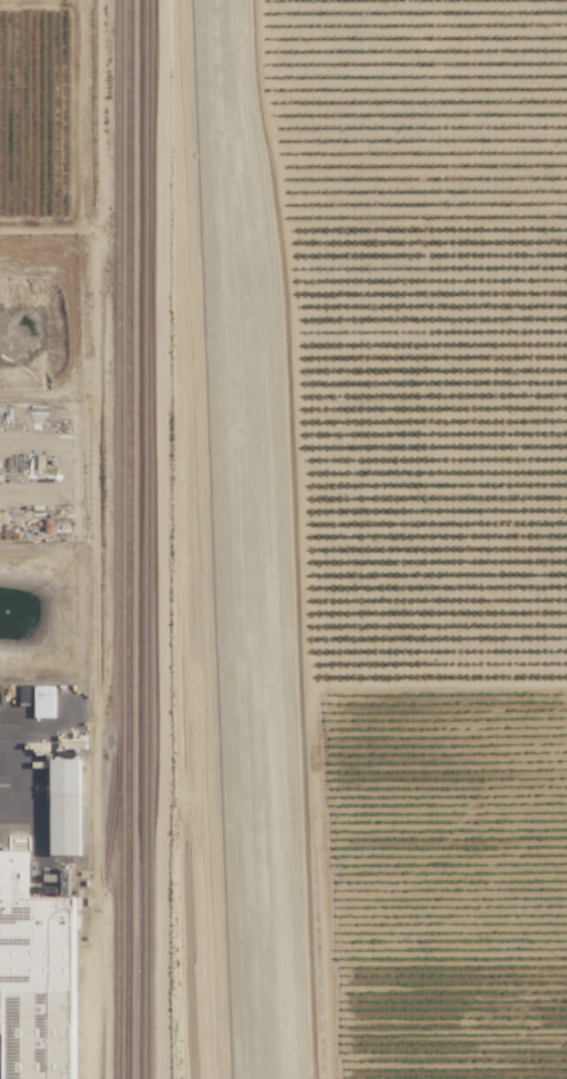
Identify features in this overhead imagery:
railway: (141, 538)
railway: (166, 538)
railway: (249, 538)
railway: (119, 539)
railway: (129, 539)
railway: (148, 539)
railway: (200, 539)
railway: (222, 539)
railway: (237, 539)
railway: (267, 606)
building: (70, 806)
railway: (112, 821)
building: (38, 977)

